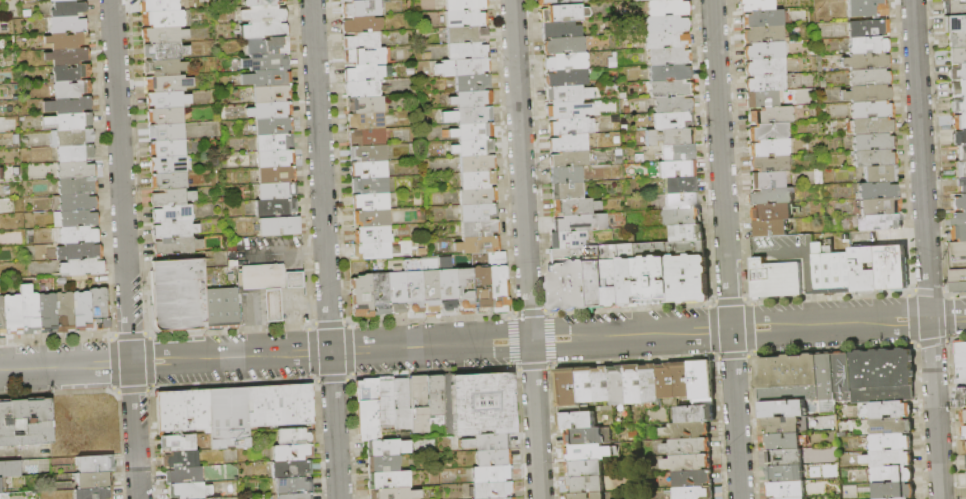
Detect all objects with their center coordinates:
building: (543, 0)
building: (634, 0)
building: (260, 1)
building: (158, 4)
building: (463, 4)
building: (753, 5)
building: (66, 6)
building: (359, 6)
building: (666, 6)
building: (952, 7)
building: (559, 8)
building: (866, 9)
building: (265, 11)
building: (465, 15)
building: (159, 17)
building: (762, 19)
building: (359, 20)
building: (66, 22)
building: (666, 22)
building: (953, 23)
building: (560, 25)
building: (264, 28)
building: (868, 28)
building: (465, 31)
building: (163, 32)
building: (763, 35)
building: (358, 37)
building: (67, 38)
building: (664, 38)
building: (956, 39)
building: (265, 42)
building: (561, 42)
building: (868, 46)
building: (164, 48)
building: (465, 48)
building: (764, 51)
building: (666, 53)
building: (68, 54)
building: (362, 55)
building: (956, 55)
building: (266, 58)
building: (563, 59)
building: (468, 63)
building: (864, 63)
building: (164, 65)
building: (766, 66)
building: (667, 69)
building: (68, 71)
building: (363, 71)
building: (957, 71)
building: (268, 75)
building: (564, 75)
building: (867, 78)
building: (471, 79)
building: (164, 82)
building: (767, 83)
building: (361, 85)
building: (668, 86)
building: (69, 87)
building: (957, 87)
building: (566, 90)
building: (269, 91)
building: (868, 94)
building: (472, 95)
building: (164, 97)
building: (763, 100)
building: (363, 102)
building: (668, 102)
building: (69, 103)
building: (957, 104)
building: (271, 107)
building: (567, 107)
building: (869, 110)
building: (473, 112)
building: (164, 113)
building: (770, 116)
building: (671, 118)
building: (70, 119)
building: (364, 119)
building: (957, 120)
building: (272, 123)
building: (568, 124)
building: (870, 127)
building: (474, 128)
building: (164, 130)
building: (768, 133)
building: (365, 135)
building: (667, 136)
building: (958, 136)
building: (273, 139)
building: (566, 140)
building: (71, 143)
building: (870, 143)
building: (475, 144)
building: (165, 146)
road: (901, 146)
road: (936, 147)
building: (769, 149)
building: (366, 151)
building: (677, 151)
building: (960, 152)
building: (275, 155)
building: (567, 156)
building: (475, 160)
building: (871, 160)
building: (165, 162)
road: (721, 164)
building: (771, 164)
building: (72, 167)
building: (367, 167)
building: (676, 167)
building: (959, 169)
road: (521, 170)
building: (274, 172)
building: (564, 172)
building: (877, 176)
building: (476, 177)
building: (165, 178)
building: (767, 182)
building: (367, 183)
building: (679, 183)
building: (72, 184)
building: (960, 184)
building: (276, 188)
building: (565, 188)
building: (876, 192)
building: (476, 194)
building: (166, 195)
building: (679, 197)
building: (771, 197)
building: (367, 199)
building: (73, 200)
building: (958, 202)
building: (574, 204)
building: (274, 205)
building: (877, 209)
building: (477, 210)
building: (166, 212)
building: (770, 212)
building: (680, 215)
building: (74, 216)
building: (368, 216)
building: (958, 218)
building: (574, 220)
building: (277, 224)
building: (877, 225)
building: (478, 226)
building: (166, 227)
building: (769, 228)
building: (684, 231)
building: (370, 232)
building: (74, 233)
building: (959, 233)
building: (568, 237)
building: (478, 243)
building: (171, 244)
building: (374, 248)
road: (124, 249)
road: (324, 249)
road: (925, 249)
building: (75, 250)
road: (312, 251)
building: (567, 251)
road: (737, 251)
building: (957, 251)
road: (794, 252)
road: (272, 253)
parking lot: (787, 253)
building: (958, 265)
building: (76, 267)
building: (890, 268)
building: (863, 269)
building: (832, 273)
building: (261, 276)
building: (773, 278)
building: (686, 279)
building: (651, 280)
building: (958, 280)
building: (429, 281)
building: (627, 281)
building: (611, 282)
building: (412, 283)
building: (594, 283)
building: (395, 284)
building: (497, 284)
building: (379, 285)
building: (480, 285)
building: (567, 285)
building: (360, 286)
building: (463, 286)
building: (445, 287)
road: (926, 292)
building: (176, 293)
road: (955, 293)
road: (267, 303)
building: (220, 305)
building: (97, 307)
road: (808, 307)
building: (80, 308)
building: (63, 310)
building: (46, 311)
building: (28, 312)
building: (11, 313)
road: (945, 316)
building: (1, 317)
road: (910, 318)
road: (847, 322)
road: (629, 335)
road: (956, 338)
road: (929, 341)
road: (264, 355)
building: (961, 361)
building: (883, 376)
building: (827, 377)
building: (843, 377)
building: (788, 378)
building: (683, 380)
building: (667, 381)
building: (703, 383)
building: (652, 384)
building: (603, 385)
building: (635, 385)
building: (587, 386)
building: (619, 386)
building: (568, 388)
building: (367, 390)
building: (961, 398)
building: (426, 401)
building: (386, 402)
building: (483, 403)
building: (403, 404)
building: (282, 405)
building: (809, 406)
building: (570, 408)
building: (783, 409)
building: (184, 410)
building: (891, 410)
building: (696, 414)
road: (734, 414)
building: (230, 417)
building: (964, 417)
building: (368, 419)
road: (534, 420)
building: (578, 421)
building: (26, 423)
building: (782, 425)
building: (892, 426)
building: (687, 431)
building: (965, 432)
building: (296, 436)
building: (585, 438)
building: (179, 442)
building: (487, 442)
building: (782, 442)
building: (892, 442)
building: (387, 447)
building: (687, 447)
building: (293, 452)
building: (589, 454)
building: (824, 455)
building: (493, 457)
building: (785, 458)
building: (889, 458)
building: (182, 459)
building: (965, 462)
building: (688, 463)
building: (96, 464)
building: (384, 464)
building: (291, 468)
building: (11, 469)
building: (585, 469)
building: (820, 471)
building: (492, 474)
building: (785, 474)
building: (893, 474)
building: (184, 475)
building: (694, 479)
building: (95, 480)
building: (390, 480)
building: (293, 485)
building: (590, 485)
building: (0, 486)
building: (493, 490)
building: (787, 490)
building: (895, 490)
building: (190, 491)
building: (94, 493)
building: (694, 493)
building: (395, 494)
building: (295, 495)
building: (587, 496)
building: (0, 497)
building: (210, 498)
building: (216, 498)
building: (501, 498)
building: (801, 498)
building: (904, 498)

